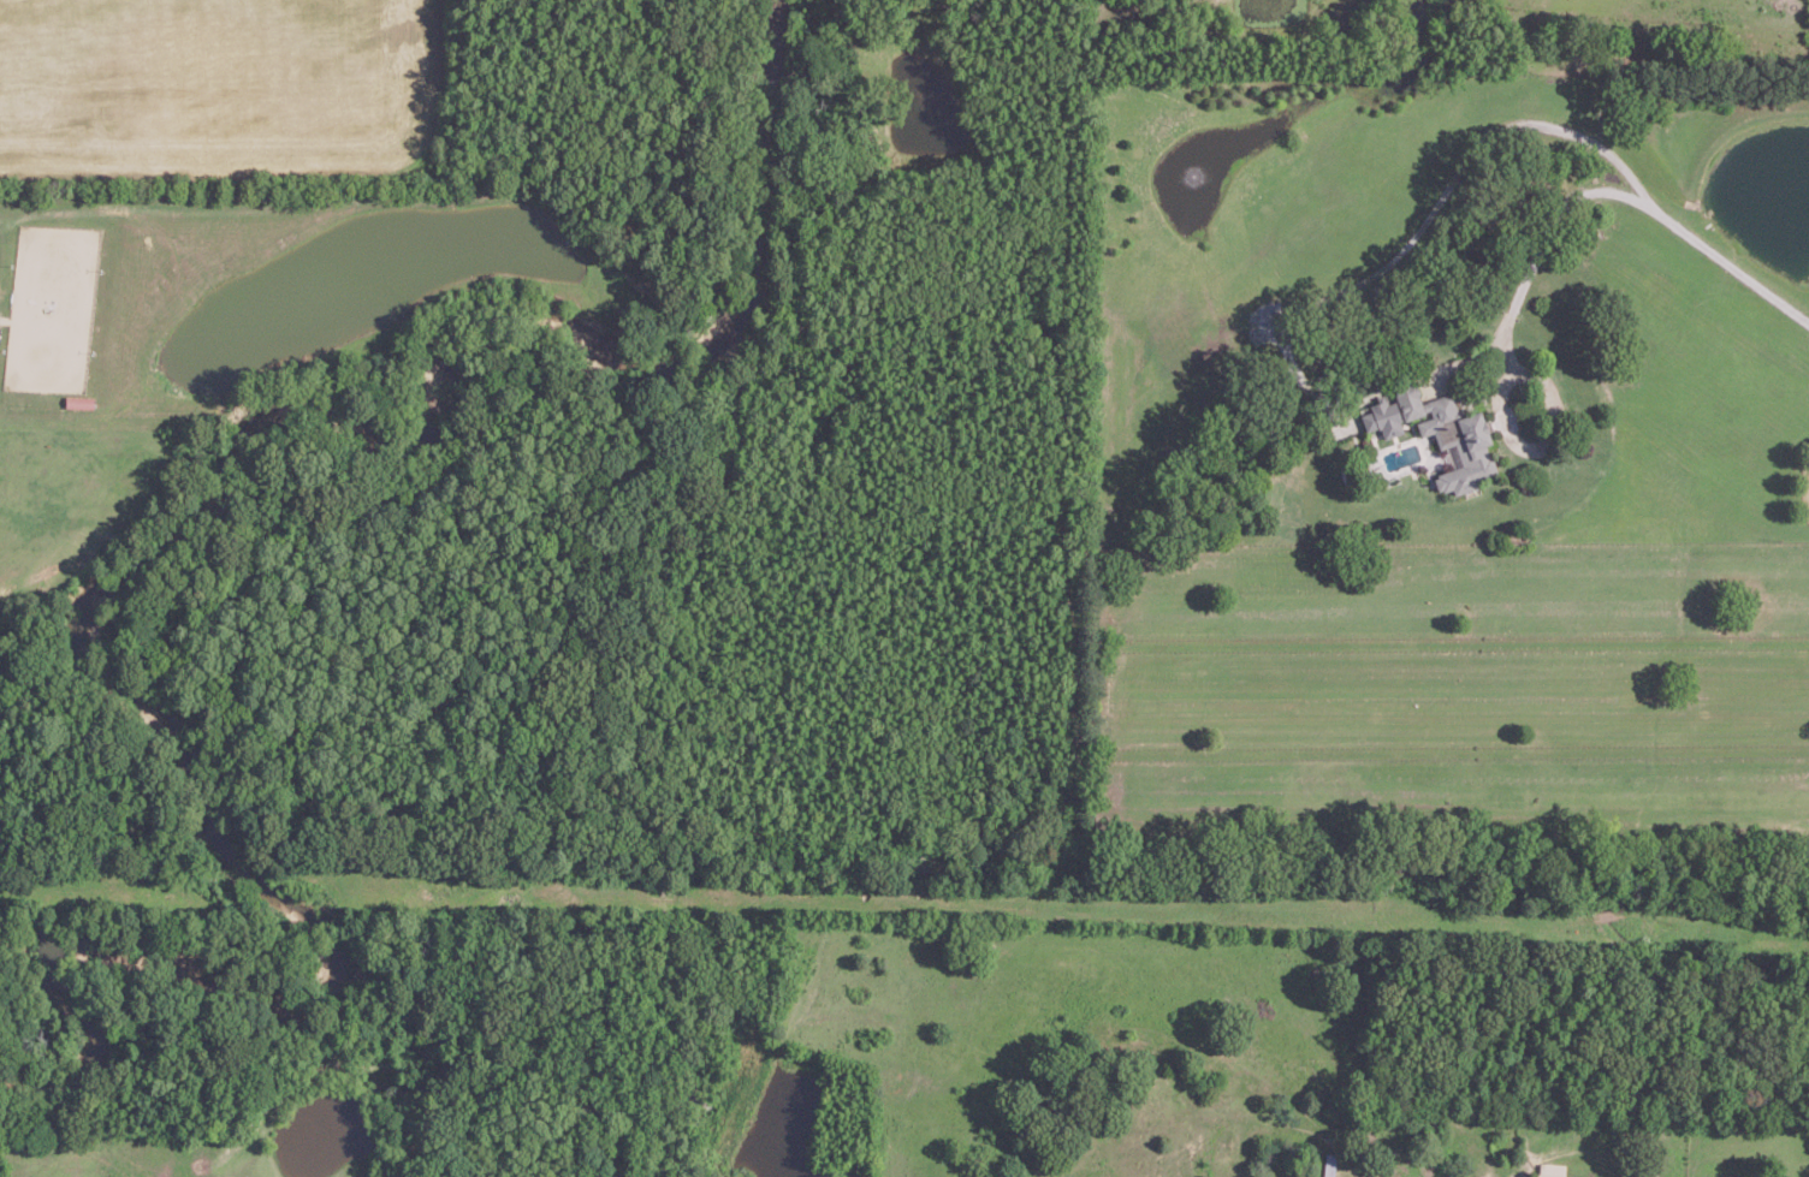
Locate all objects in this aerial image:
road: (1546, 225)
road: (1405, 244)
road: (1712, 245)
building: (79, 400)
building: (1436, 428)
road: (1511, 435)
building: (1549, 1169)

